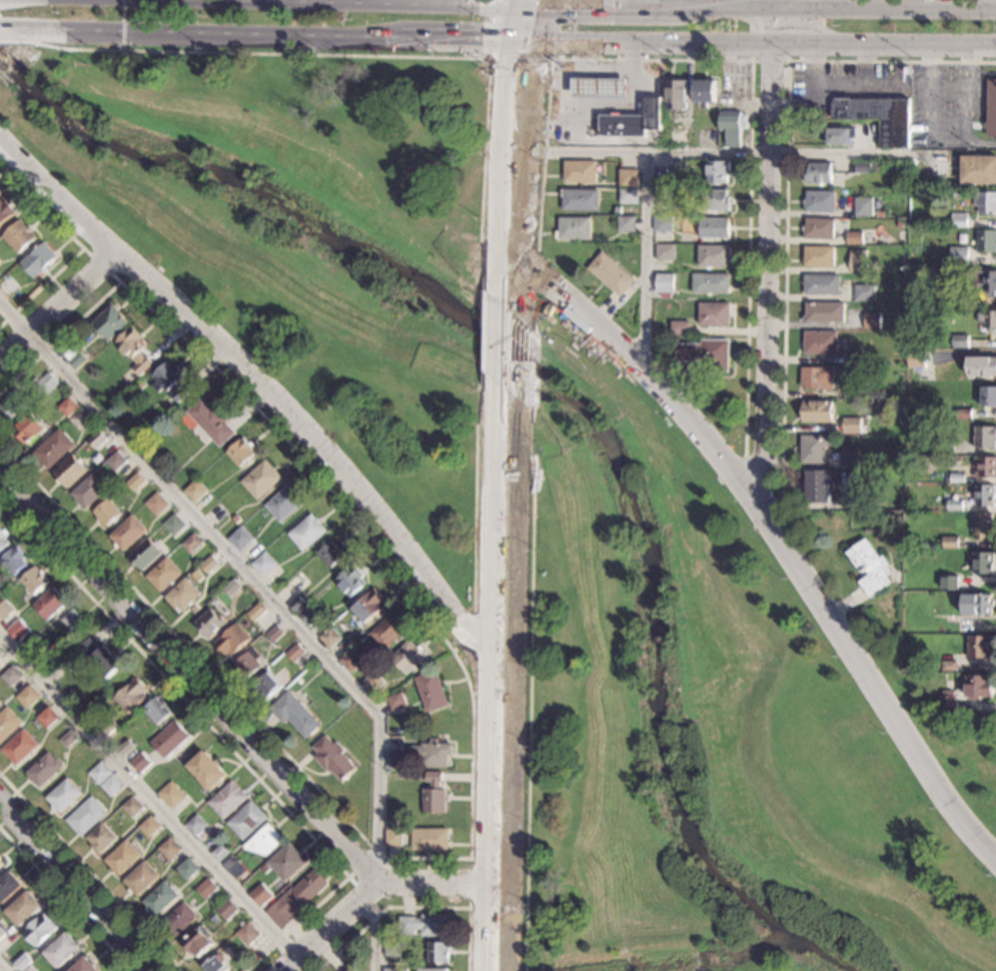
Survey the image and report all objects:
road: (519, 2)
road: (542, 2)
road: (629, 3)
road: (676, 3)
traffic signals: (565, 5)
road: (654, 6)
road: (808, 22)
road: (514, 23)
road: (122, 24)
road: (537, 24)
road: (6, 30)
road: (207, 35)
road: (18, 42)
road: (455, 42)
traffic signals: (489, 43)
road: (521, 43)
road: (764, 46)
road: (751, 49)
road: (262, 53)
road: (519, 59)
road: (750, 60)
traffic signals: (532, 63)
road: (596, 73)
road: (557, 78)
road: (529, 86)
building: (599, 88)
building: (704, 91)
building: (676, 93)
road: (564, 103)
road: (601, 104)
parking lot: (944, 104)
building: (991, 109)
building: (877, 115)
building: (743, 116)
building: (631, 122)
building: (730, 126)
building: (677, 136)
building: (835, 136)
road: (949, 142)
road: (980, 143)
road: (732, 150)
building: (861, 166)
building: (875, 167)
building: (979, 168)
road: (500, 169)
building: (579, 171)
building: (717, 171)
building: (818, 172)
building: (660, 173)
road: (482, 174)
building: (628, 177)
road: (786, 183)
building: (664, 194)
building: (628, 196)
building: (579, 198)
building: (716, 199)
building: (819, 200)
building: (984, 201)
building: (864, 206)
building: (852, 210)
building: (616, 211)
building: (5, 212)
building: (957, 219)
building: (626, 223)
building: (662, 223)
building: (898, 223)
road: (521, 224)
building: (575, 227)
building: (714, 227)
building: (818, 228)
park: (306, 232)
building: (19, 237)
building: (854, 237)
building: (986, 239)
road: (80, 245)
building: (665, 251)
building: (713, 255)
building: (818, 256)
building: (958, 256)
road: (644, 257)
road: (766, 259)
building: (857, 260)
building: (39, 263)
road: (100, 264)
road: (500, 264)
road: (533, 273)
building: (611, 273)
building: (941, 276)
building: (985, 280)
building: (710, 282)
building: (664, 283)
building: (820, 284)
building: (8, 288)
building: (864, 292)
road: (59, 306)
road: (530, 312)
building: (823, 312)
building: (714, 313)
building: (987, 318)
building: (871, 320)
building: (110, 325)
building: (680, 327)
road: (482, 330)
road: (493, 336)
building: (959, 340)
building: (819, 342)
building: (136, 351)
building: (706, 354)
building: (917, 356)
building: (74, 357)
building: (852, 357)
road: (518, 358)
building: (981, 365)
road: (530, 369)
building: (913, 369)
building: (817, 377)
building: (170, 383)
building: (48, 385)
building: (853, 389)
road: (269, 392)
building: (988, 396)
river: (564, 407)
building: (15, 408)
building: (69, 409)
building: (817, 409)
building: (963, 413)
building: (81, 421)
building: (212, 423)
building: (851, 425)
building: (30, 432)
road: (764, 435)
building: (985, 437)
building: (98, 442)
building: (944, 445)
building: (814, 448)
building: (55, 451)
building: (241, 454)
building: (850, 458)
building: (117, 463)
building: (986, 467)
building: (71, 473)
building: (956, 478)
building: (261, 482)
building: (136, 484)
building: (819, 486)
road: (474, 492)
building: (89, 493)
building: (196, 493)
building: (983, 494)
building: (954, 504)
building: (157, 506)
building: (284, 506)
building: (108, 515)
building: (235, 521)
building: (982, 526)
building: (175, 527)
building: (308, 534)
building: (129, 535)
road: (779, 535)
building: (241, 541)
building: (950, 541)
building: (3, 543)
building: (193, 546)
building: (146, 556)
building: (331, 557)
building: (14, 563)
building: (982, 563)
road: (241, 565)
building: (870, 566)
building: (210, 567)
building: (264, 567)
building: (166, 577)
building: (35, 582)
building: (950, 582)
building: (350, 584)
building: (232, 590)
building: (184, 597)
building: (977, 603)
building: (51, 606)
building: (297, 607)
building: (369, 608)
building: (5, 610)
building: (256, 614)
building: (305, 616)
building: (75, 623)
building: (211, 625)
building: (19, 632)
building: (389, 633)
building: (275, 636)
building: (331, 641)
building: (233, 642)
road: (472, 643)
building: (979, 646)
building: (38, 650)
building: (2, 655)
building: (296, 656)
building: (101, 659)
building: (408, 659)
building: (351, 663)
building: (248, 665)
building: (949, 665)
road: (487, 673)
road: (190, 677)
building: (12, 678)
road: (513, 684)
building: (373, 685)
building: (980, 685)
building: (266, 688)
road: (529, 689)
building: (432, 694)
building: (132, 698)
building: (30, 699)
building: (948, 700)
building: (0, 702)
building: (1, 704)
building: (397, 704)
building: (158, 713)
building: (295, 717)
building: (49, 720)
building: (9, 725)
park: (724, 725)
building: (107, 729)
road: (219, 738)
building: (70, 741)
building: (170, 741)
road: (470, 744)
building: (21, 749)
building: (126, 750)
building: (421, 758)
building: (332, 761)
building: (141, 764)
building: (46, 771)
building: (207, 773)
building: (101, 774)
building: (112, 787)
building: (433, 796)
road: (148, 797)
building: (171, 797)
building: (65, 798)
building: (227, 802)
building: (132, 809)
building: (87, 817)
building: (246, 822)
building: (194, 826)
building: (149, 827)
building: (102, 840)
building: (263, 841)
building: (393, 841)
building: (429, 842)
building: (168, 849)
building: (219, 853)
building: (122, 859)
building: (285, 862)
building: (2, 864)
building: (186, 869)
road: (89, 872)
building: (239, 873)
building: (141, 880)
road: (349, 881)
road: (446, 885)
building: (8, 886)
road: (74, 887)
building: (206, 889)
building: (259, 895)
building: (294, 899)
road: (64, 900)
building: (160, 900)
road: (411, 907)
road: (472, 908)
building: (25, 909)
building: (226, 910)
building: (179, 922)
road: (334, 927)
building: (426, 927)
building: (40, 931)
building: (1, 934)
road: (373, 934)
building: (245, 935)
building: (197, 944)
building: (62, 950)
building: (391, 950)
building: (439, 955)
building: (22, 962)
building: (215, 965)
building: (85, 966)
road: (2, 968)
building: (28, 969)
building: (350, 970)
building: (394, 970)
building: (434, 970)

